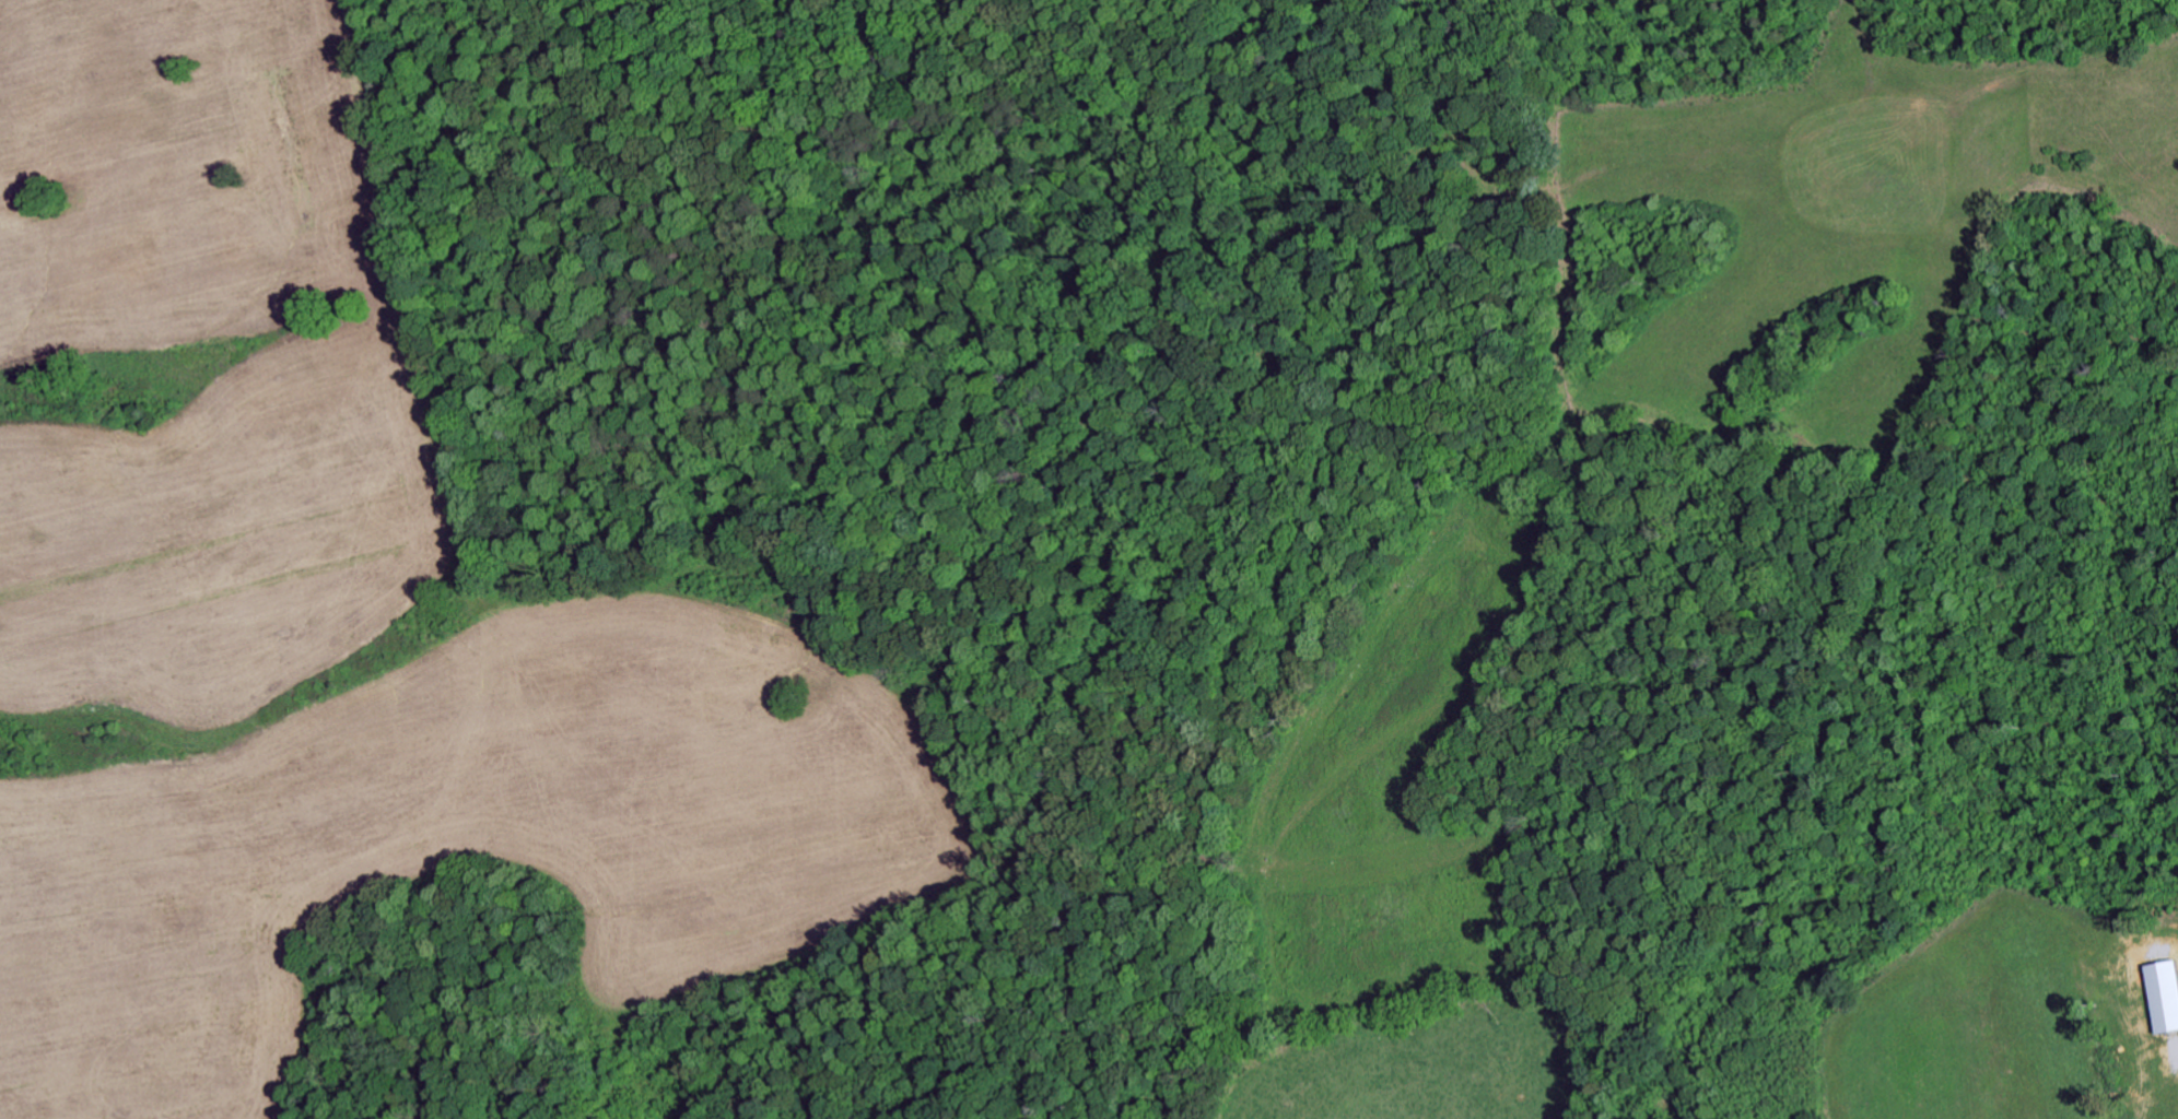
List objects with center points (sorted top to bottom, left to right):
building: (2159, 1000)

